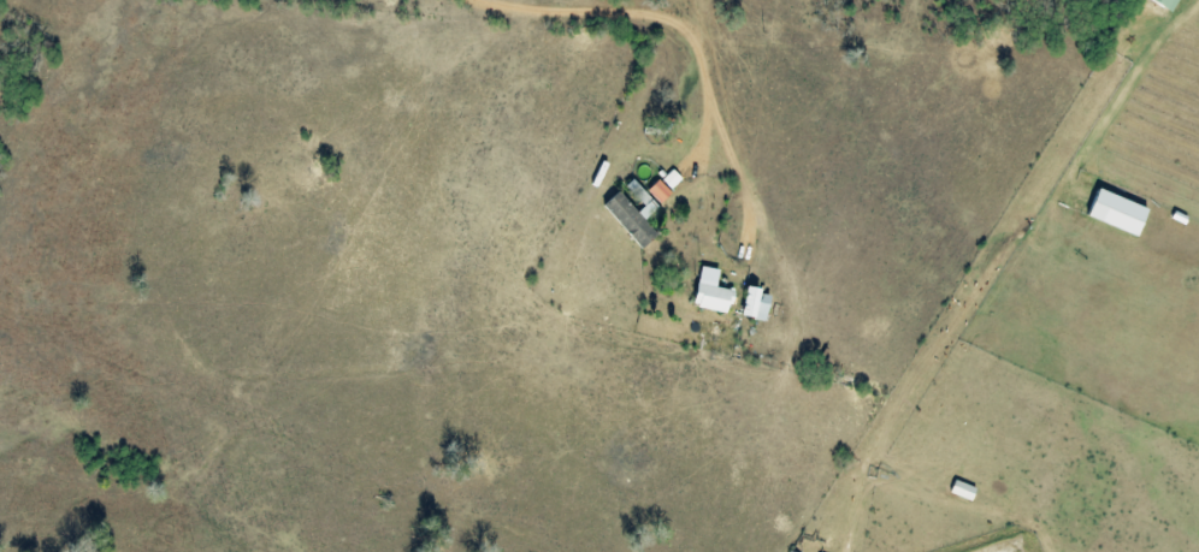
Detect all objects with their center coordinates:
building: (1157, 5)
road: (654, 8)
building: (660, 191)
building: (1109, 213)
building: (634, 214)
building: (713, 292)
building: (758, 304)
building: (956, 489)

